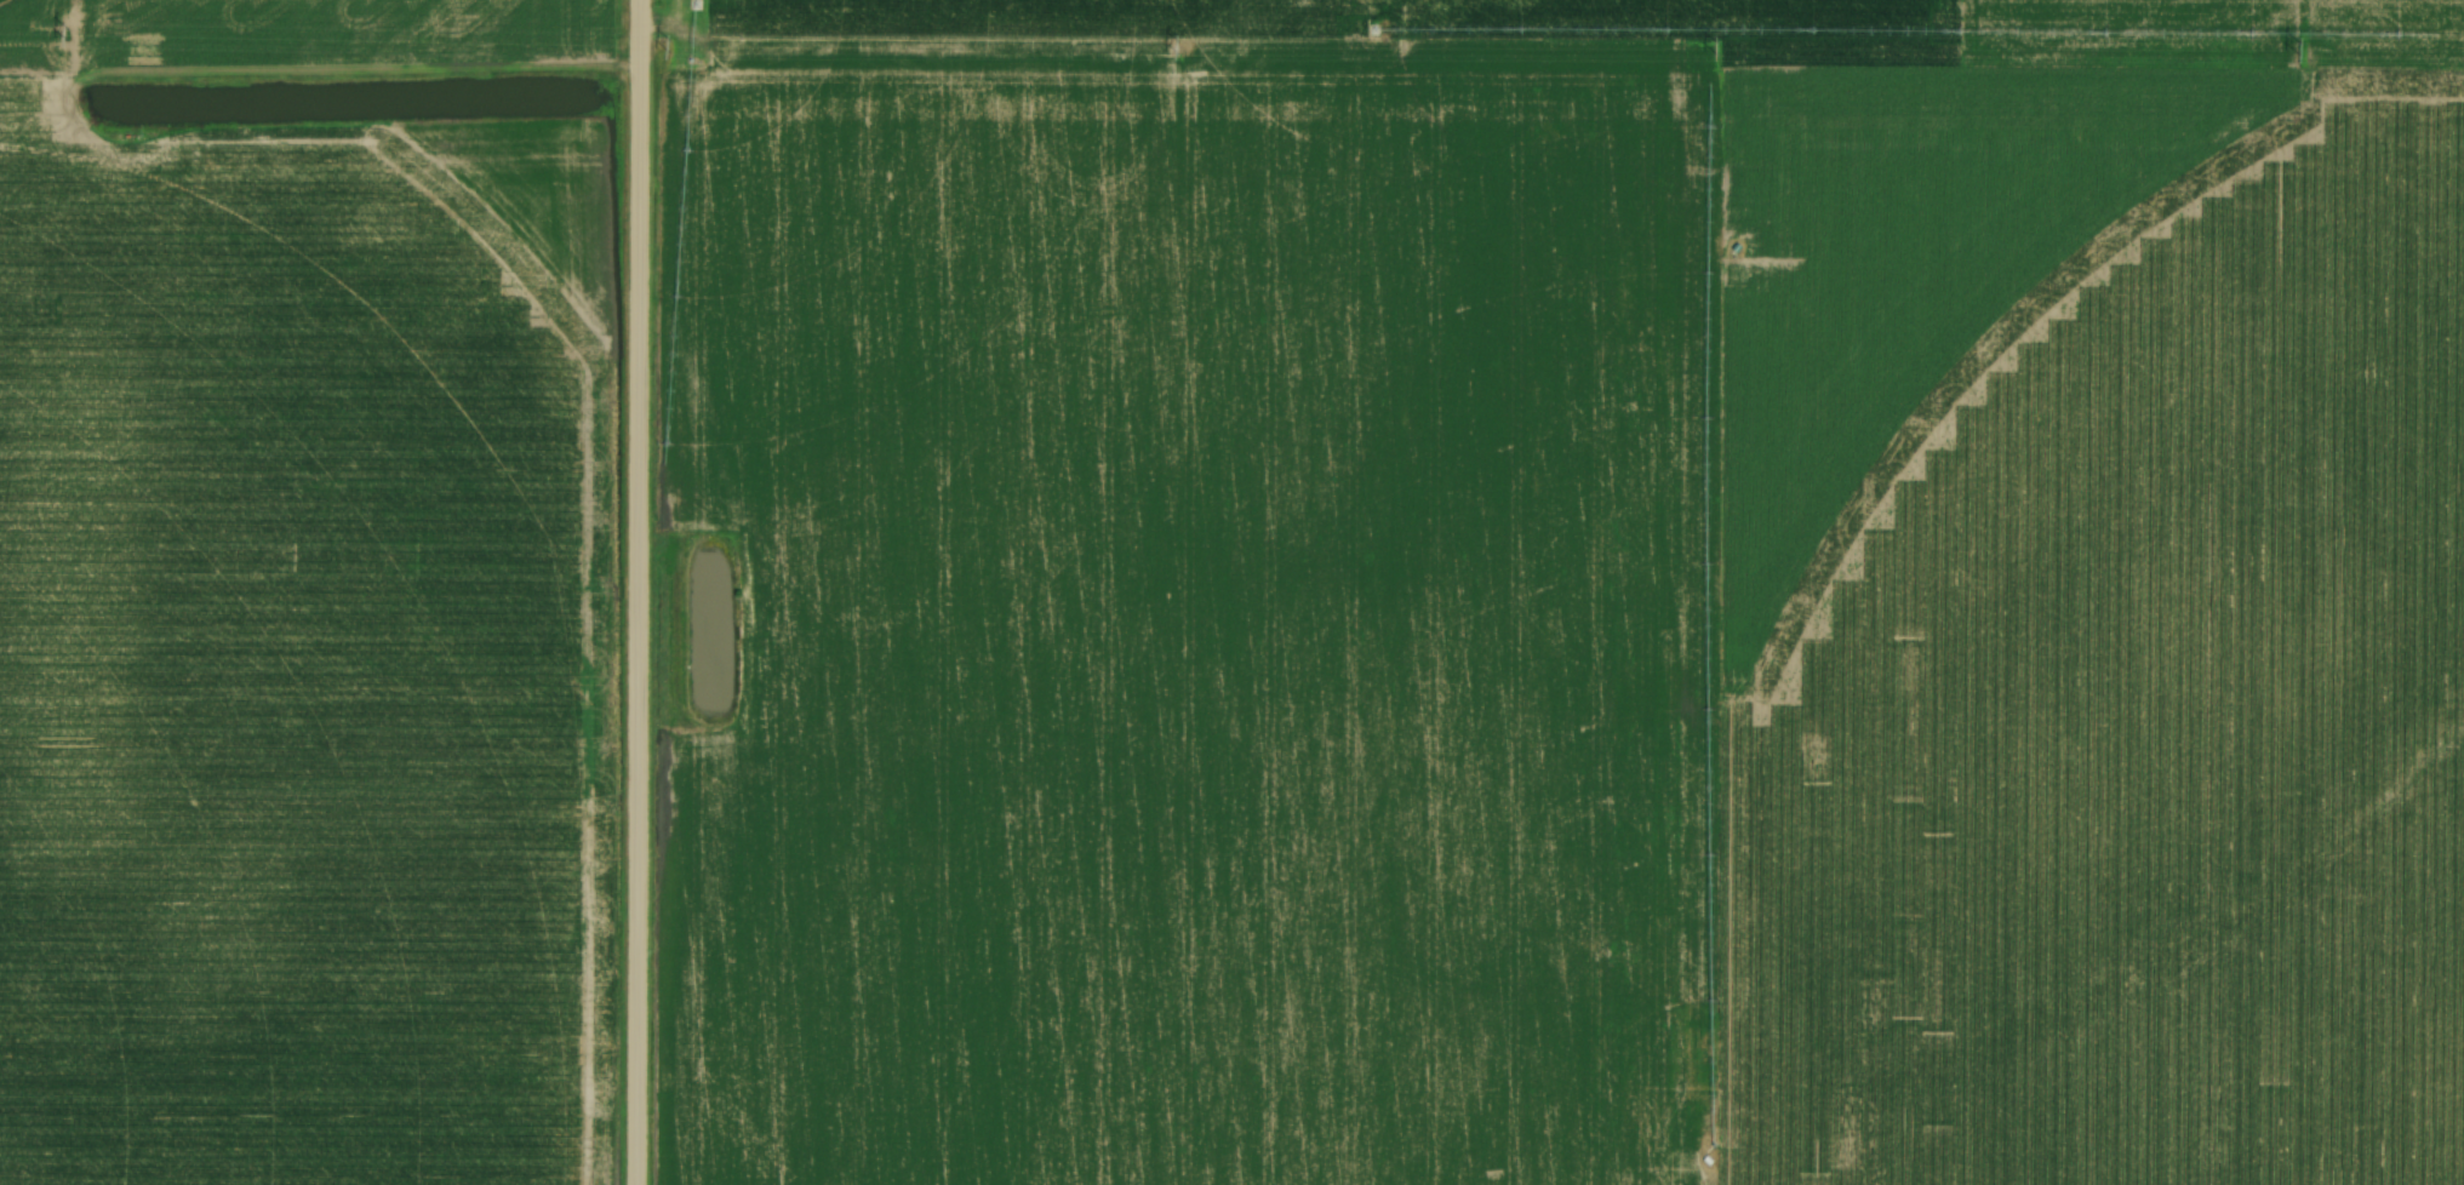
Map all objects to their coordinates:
power tower: (69, 33)
power tower: (670, 47)
power tower: (1178, 47)
power tower: (1717, 50)
power tower: (2297, 51)
road: (957, 53)
road: (638, 592)

